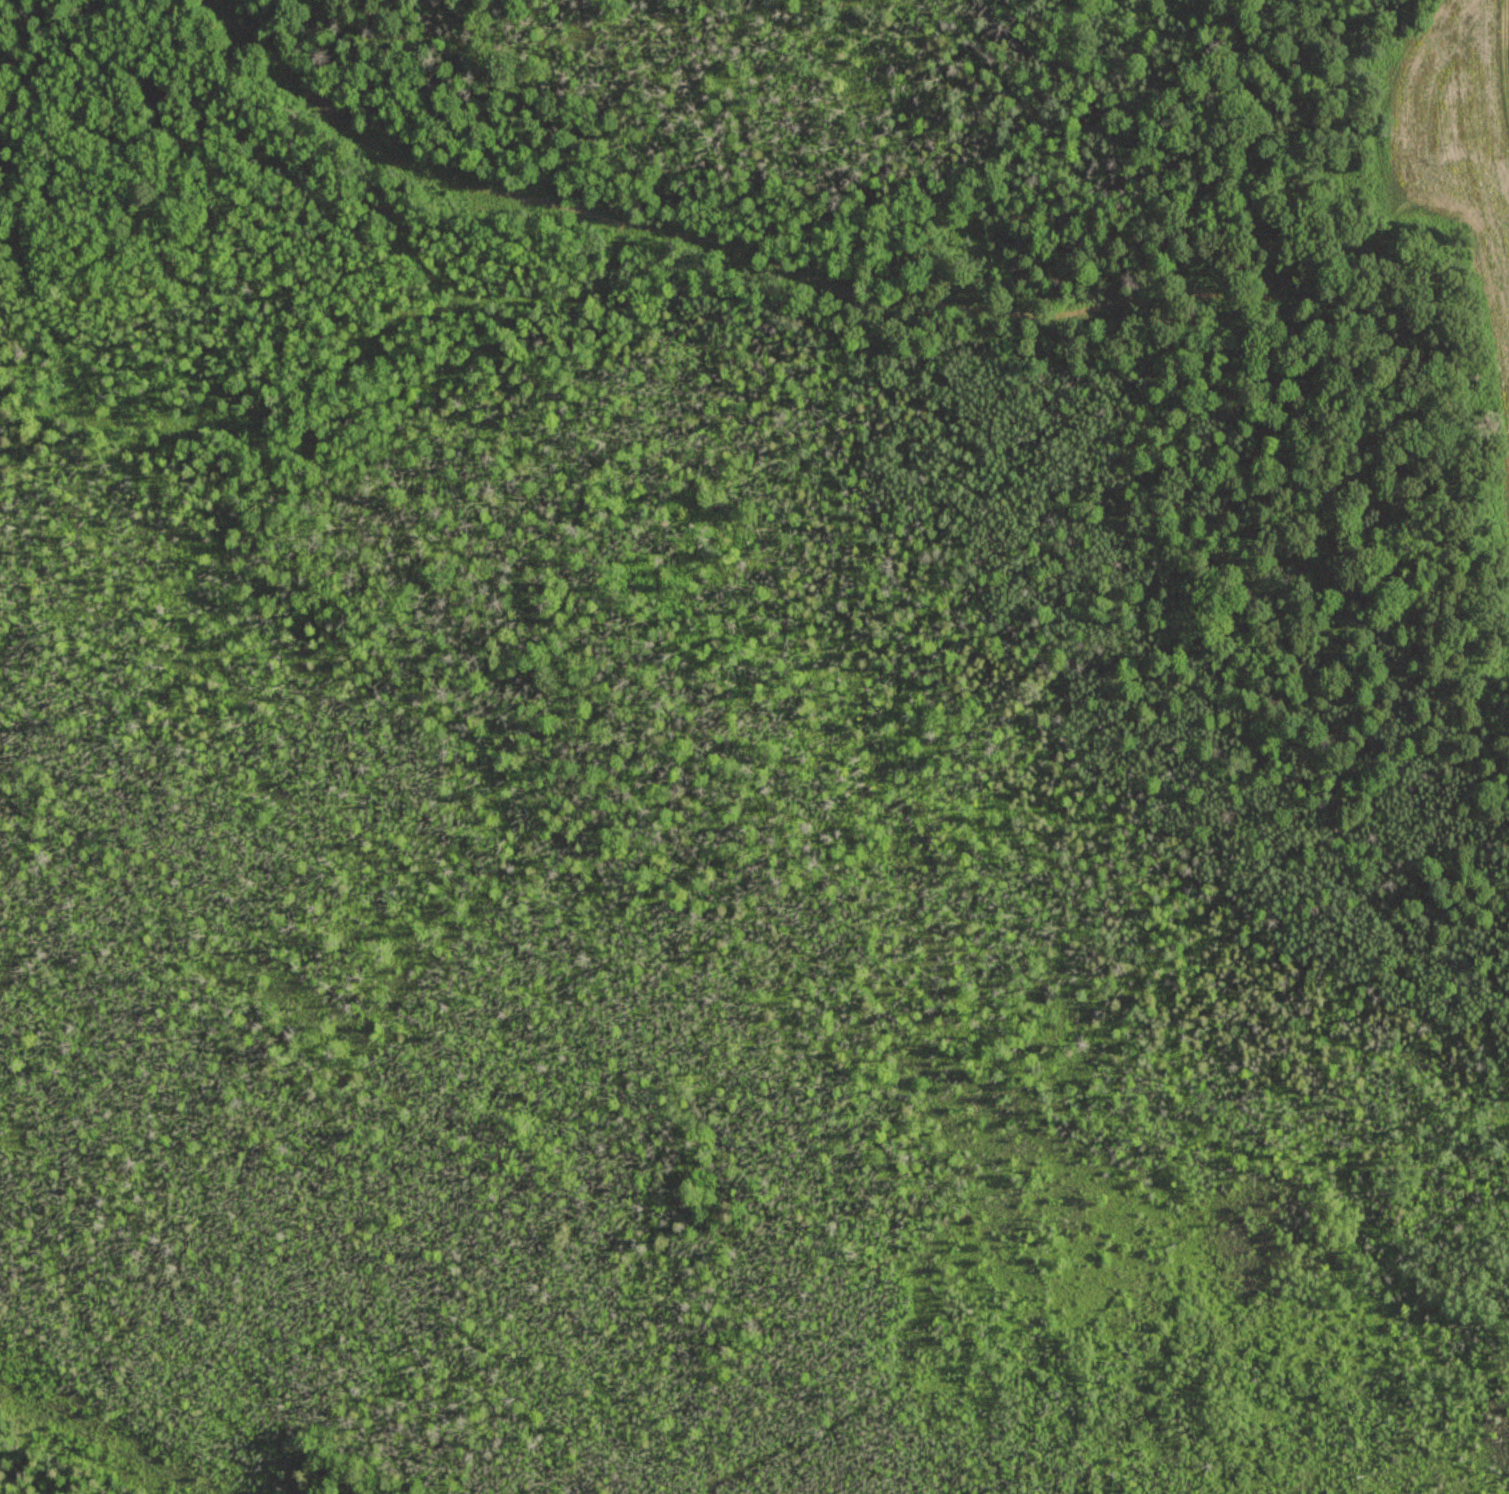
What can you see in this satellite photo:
road: (1501, 58)
airport: (1457, 190)
road: (855, 300)

